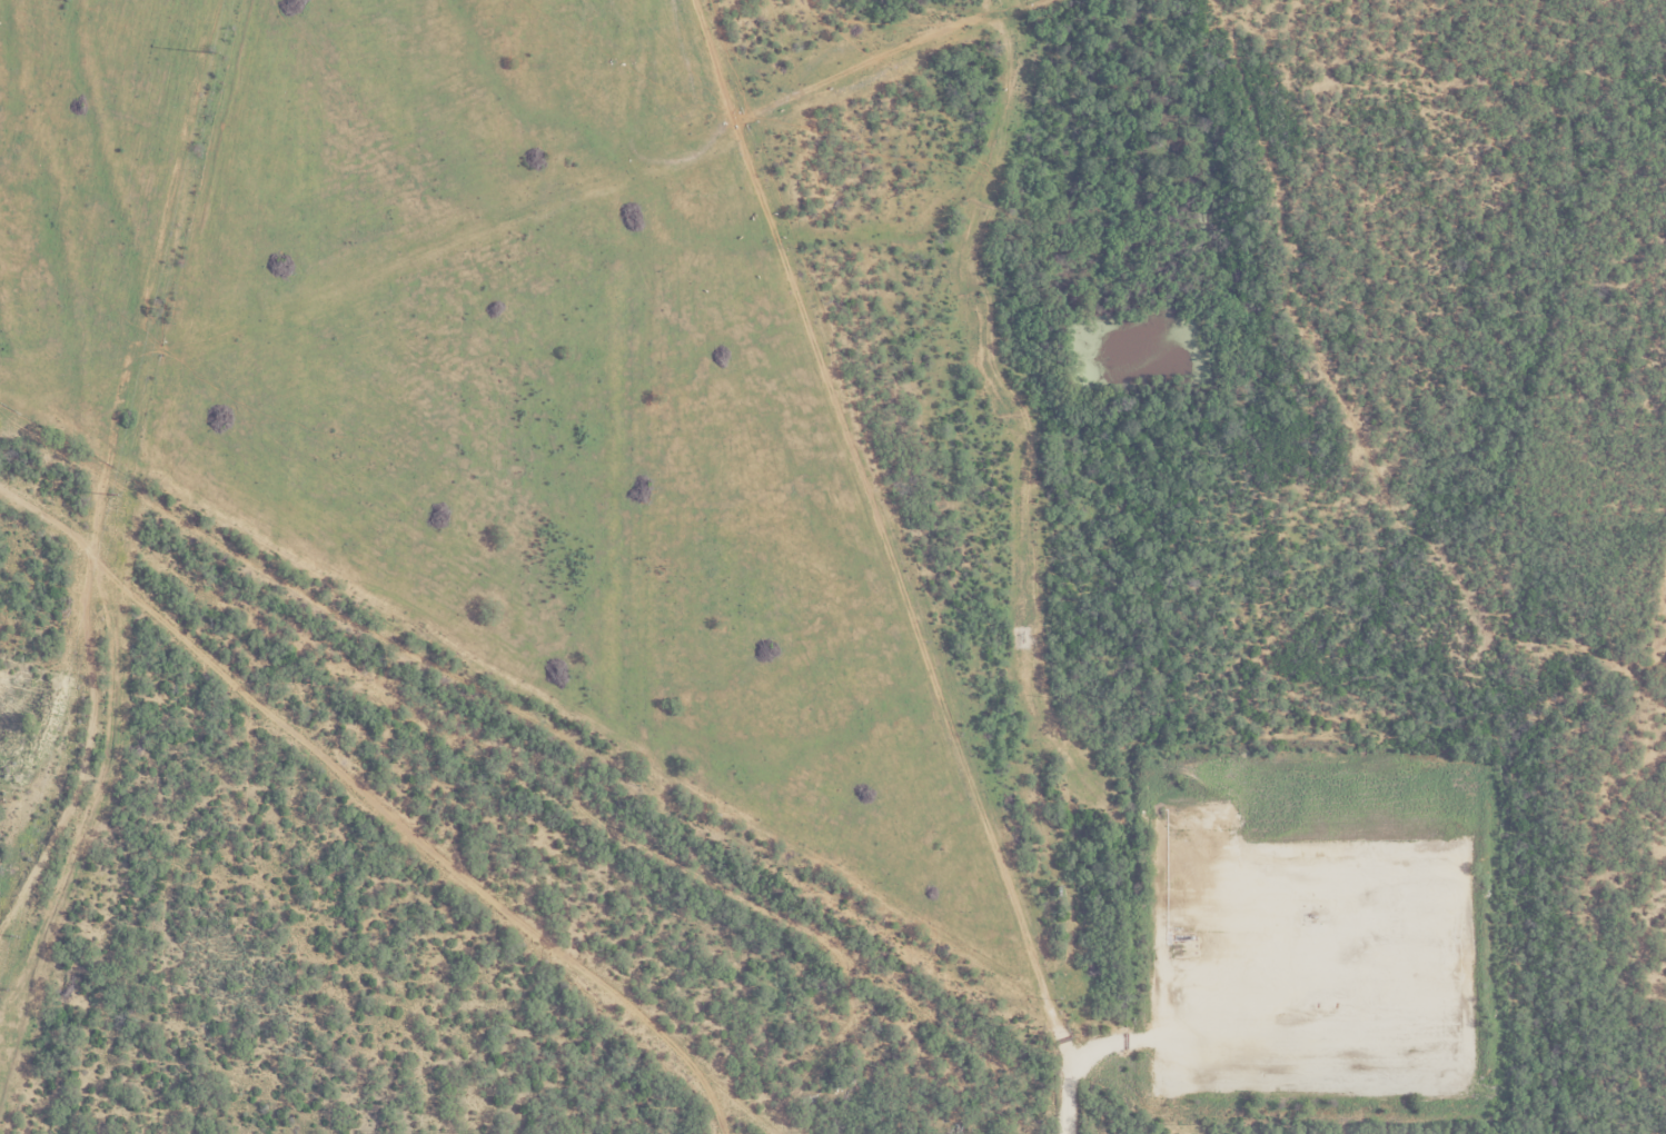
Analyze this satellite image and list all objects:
power tower: (209, 51)
power tower: (109, 494)
power tower: (7, 936)
road: (1067, 1093)

